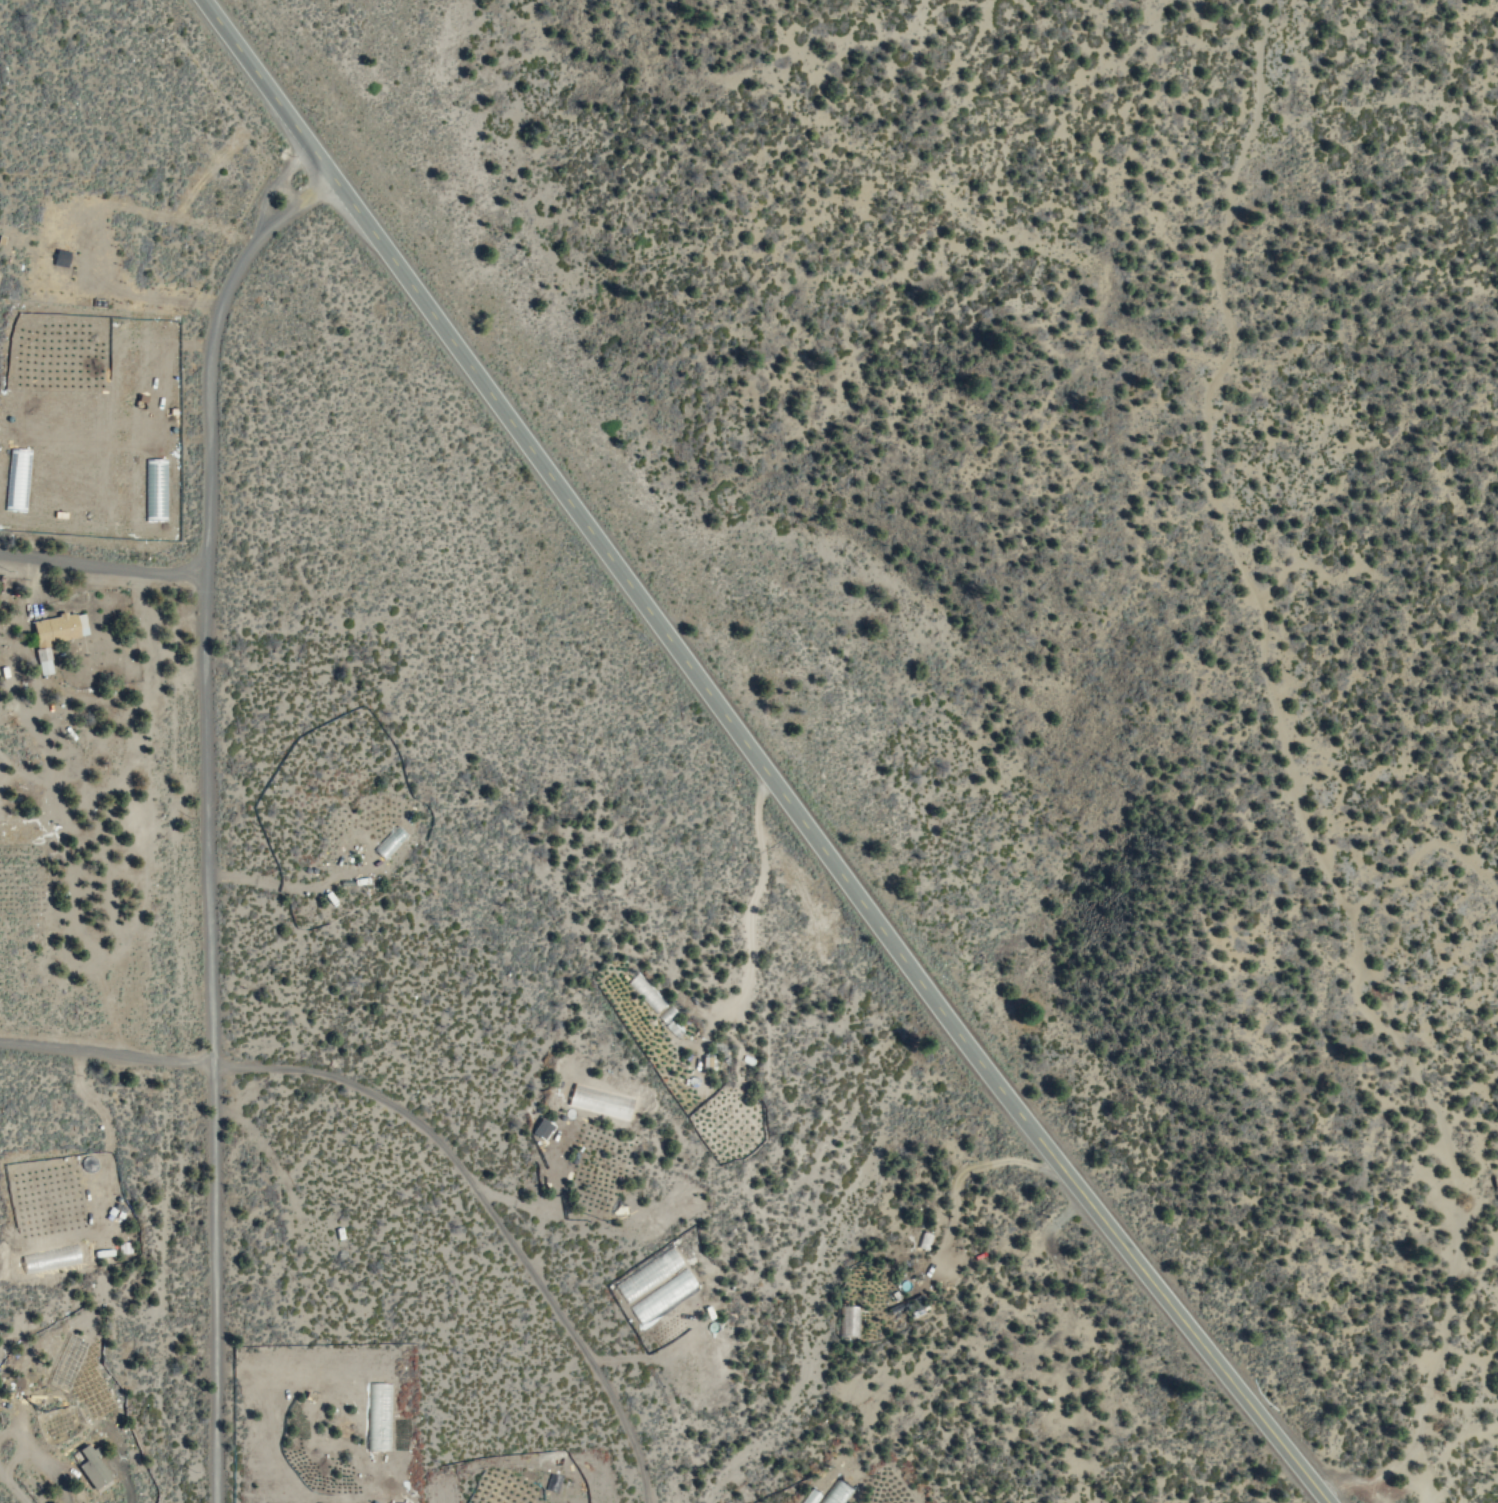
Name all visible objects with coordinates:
road: (101, 569)
building: (53, 635)
road: (154, 747)
road: (751, 759)
road: (1286, 762)
road: (205, 818)
building: (24, 831)
road: (423, 1128)
building: (64, 1365)
building: (90, 1468)

